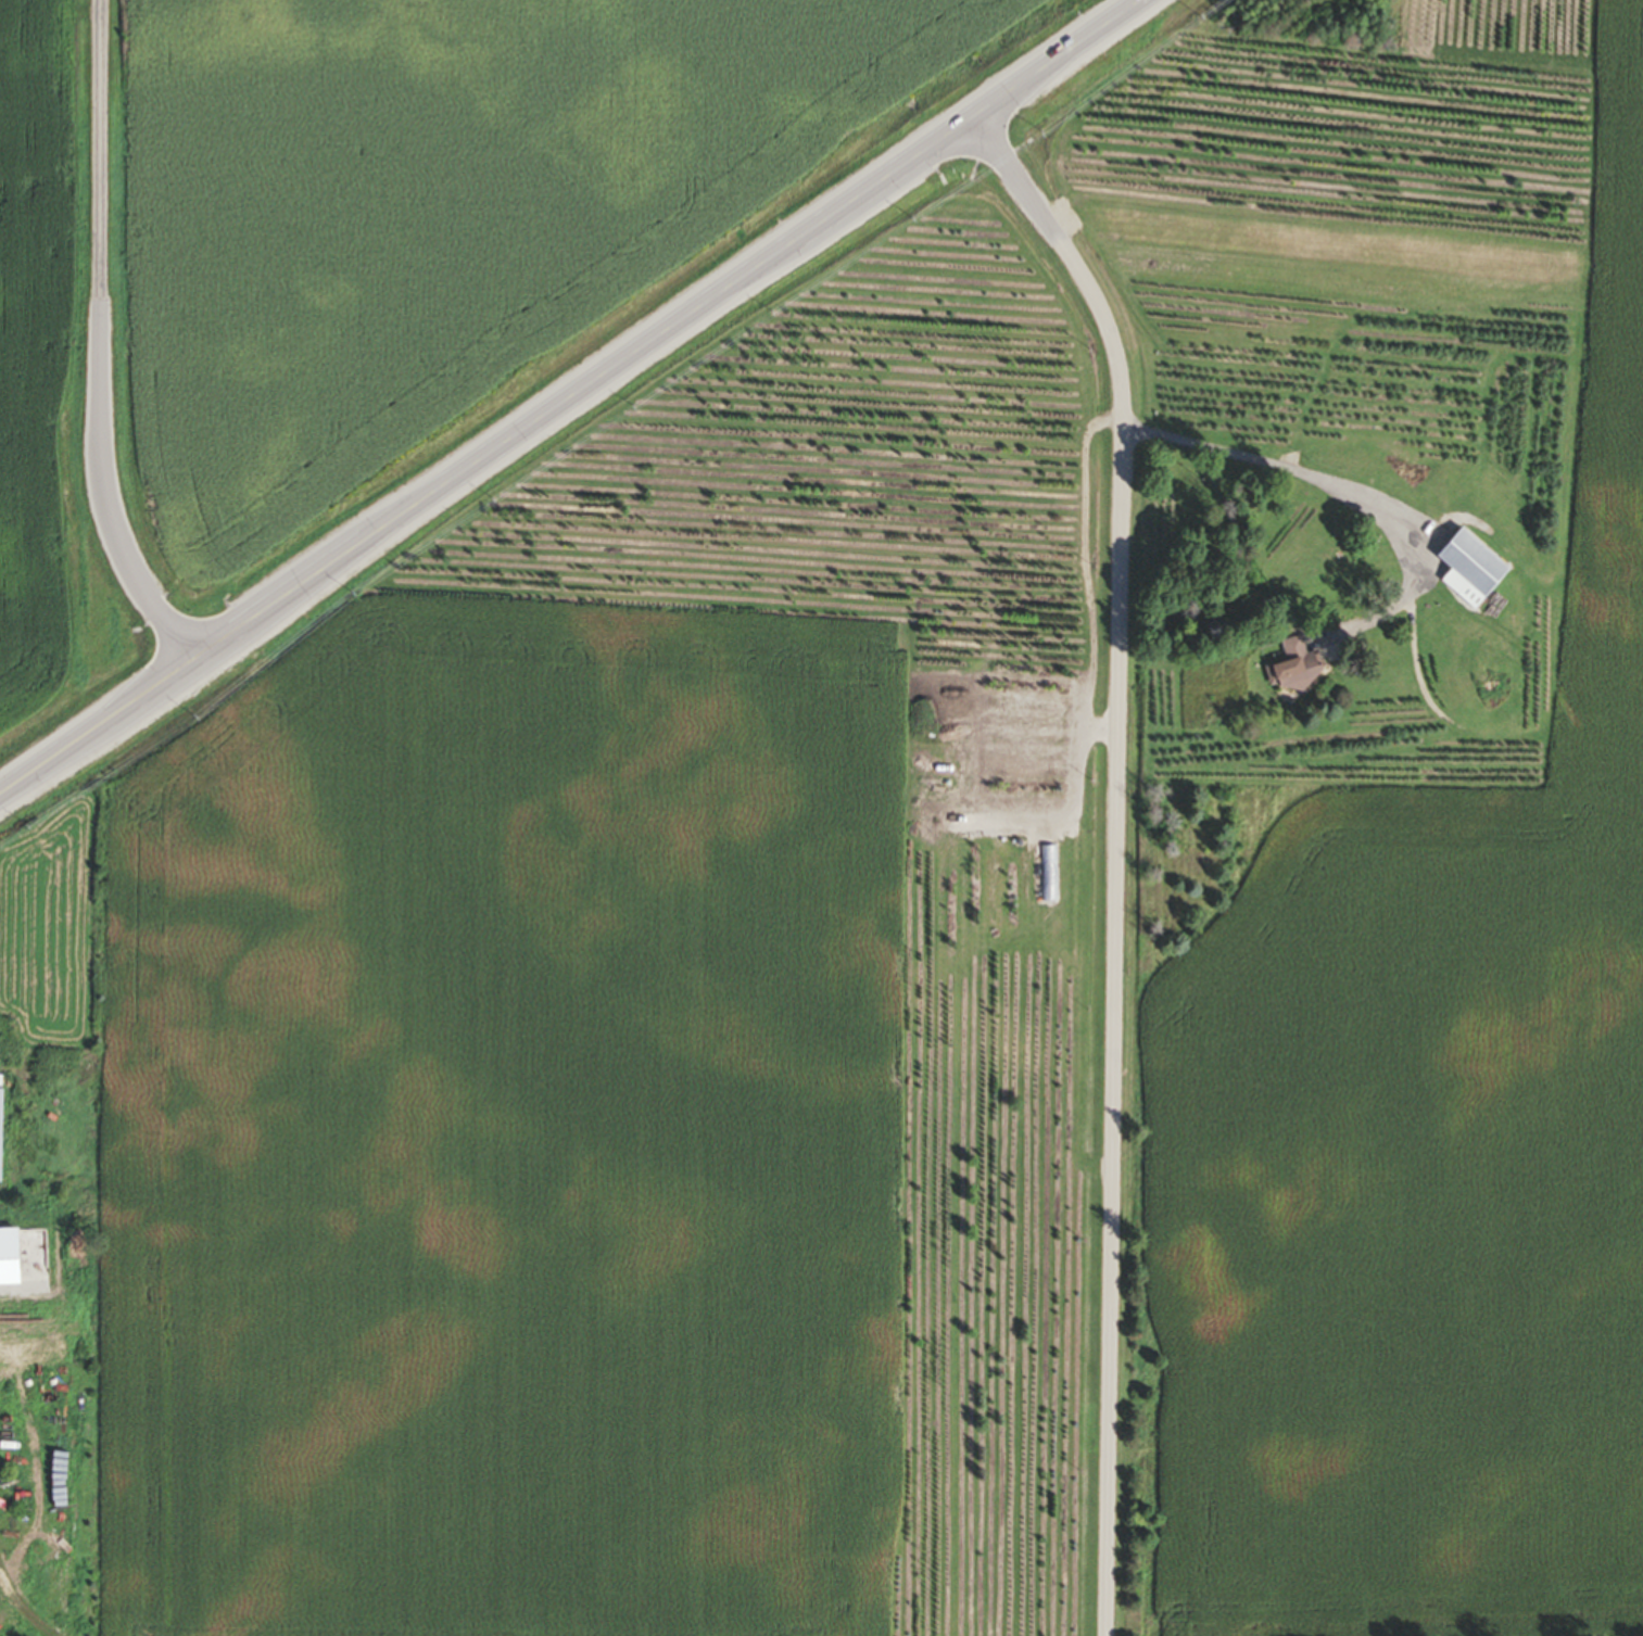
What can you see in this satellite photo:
road: (103, 360)
road: (571, 395)
road: (1337, 487)
building: (1468, 570)
building: (1294, 668)
road: (1121, 854)
building: (0, 1138)
building: (9, 1258)

